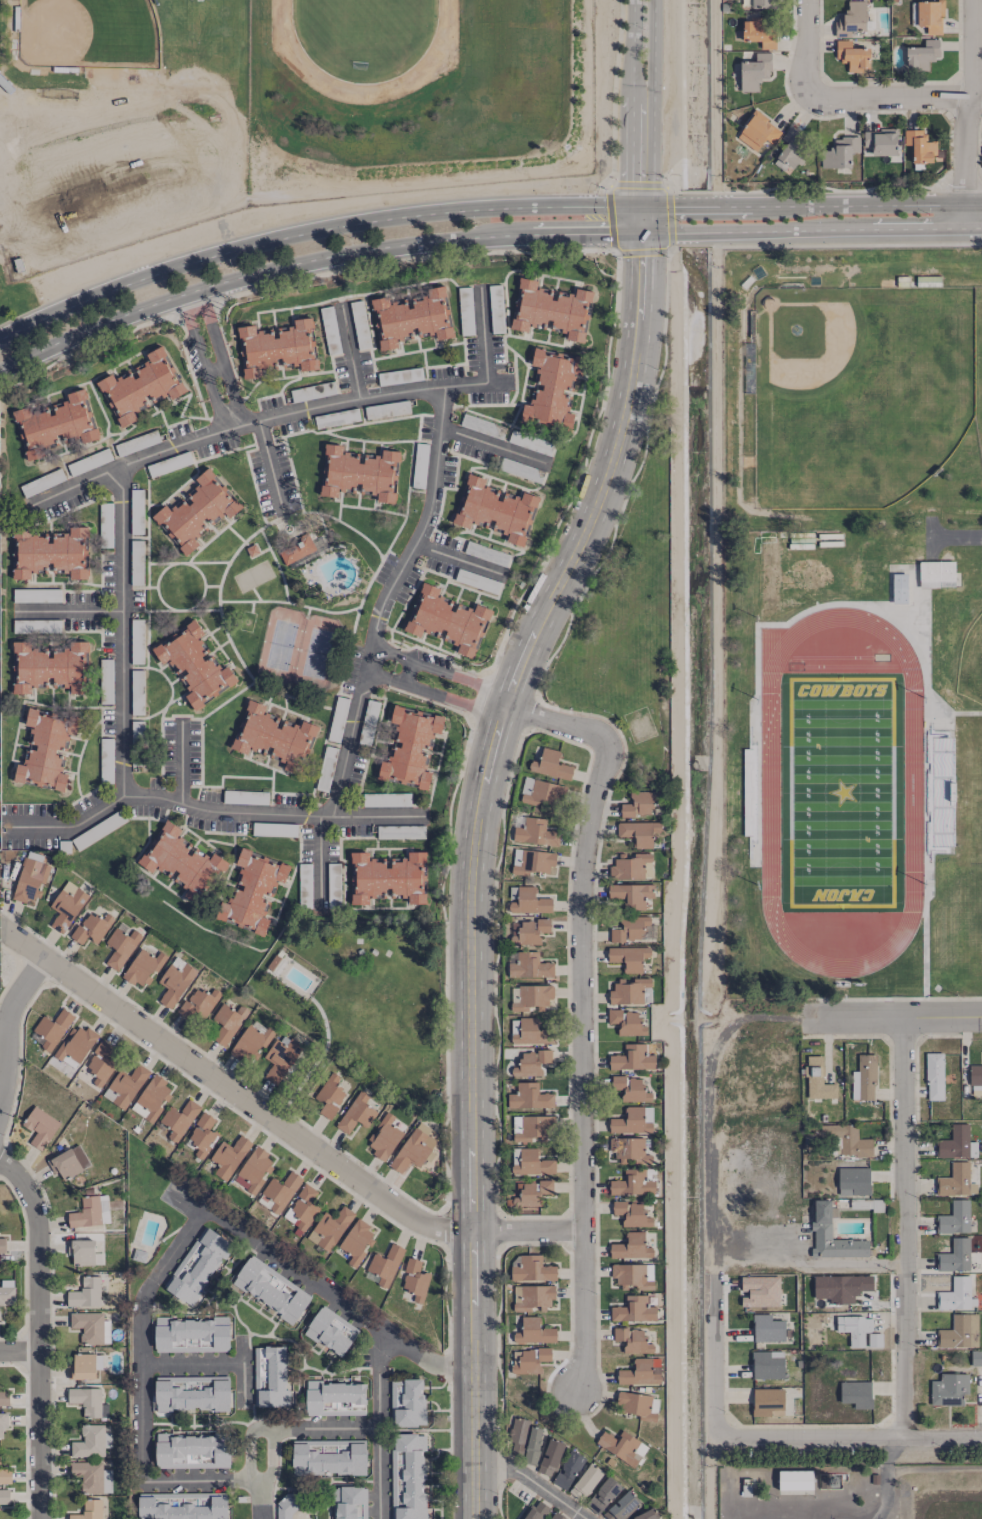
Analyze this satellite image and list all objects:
building: (763, 3)
building: (930, 16)
building: (851, 18)
building: (758, 31)
park: (135, 34)
track: (366, 41)
road: (808, 52)
building: (922, 54)
building: (852, 55)
building: (754, 71)
road: (612, 92)
road: (714, 95)
road: (970, 101)
road: (895, 102)
road: (632, 103)
road: (649, 103)
building: (758, 131)
building: (881, 141)
building: (919, 145)
building: (789, 149)
building: (840, 152)
road: (846, 203)
road: (660, 205)
road: (696, 206)
road: (965, 215)
road: (641, 218)
road: (846, 229)
road: (310, 231)
road: (661, 232)
road: (696, 232)
road: (614, 245)
road: (311, 260)
road: (616, 274)
building: (551, 308)
building: (412, 317)
road: (664, 330)
building: (278, 347)
road: (354, 352)
road: (213, 358)
park: (979, 382)
building: (141, 385)
building: (552, 389)
park: (858, 390)
road: (293, 412)
building: (55, 424)
road: (495, 446)
road: (270, 465)
building: (360, 472)
building: (494, 509)
building: (197, 510)
building: (296, 549)
building: (49, 552)
road: (459, 558)
building: (937, 572)
building: (900, 588)
road: (389, 599)
road: (72, 610)
road: (718, 616)
building: (448, 620)
road: (122, 630)
park: (971, 663)
building: (194, 664)
building: (49, 666)
building: (106, 668)
road: (380, 677)
road: (448, 693)
building: (272, 736)
building: (410, 747)
building: (45, 749)
road: (180, 762)
building: (550, 764)
building: (527, 784)
building: (544, 795)
building: (641, 803)
road: (208, 811)
building: (639, 831)
building: (535, 832)
road: (320, 860)
road: (471, 860)
building: (181, 861)
building: (531, 861)
building: (632, 866)
building: (31, 877)
building: (387, 877)
building: (251, 891)
building: (630, 894)
road: (675, 894)
building: (529, 901)
building: (66, 905)
building: (91, 927)
building: (634, 929)
building: (527, 931)
building: (120, 946)
building: (629, 957)
building: (529, 965)
building: (143, 967)
building: (175, 980)
building: (631, 991)
building: (532, 997)
building: (198, 1004)
road: (12, 1010)
road: (580, 1014)
road: (891, 1017)
building: (627, 1022)
building: (225, 1023)
building: (52, 1028)
building: (530, 1032)
building: (250, 1042)
building: (75, 1046)
building: (632, 1057)
building: (278, 1058)
building: (101, 1062)
building: (531, 1062)
building: (934, 1074)
building: (975, 1074)
building: (864, 1078)
building: (818, 1080)
building: (125, 1085)
building: (628, 1089)
building: (529, 1096)
building: (151, 1098)
building: (327, 1098)
building: (356, 1113)
building: (178, 1119)
building: (628, 1119)
road: (278, 1125)
building: (40, 1126)
building: (535, 1128)
building: (201, 1135)
building: (384, 1138)
building: (847, 1140)
building: (957, 1143)
building: (413, 1148)
building: (629, 1149)
building: (229, 1156)
building: (532, 1163)
building: (65, 1164)
building: (254, 1169)
building: (853, 1180)
building: (956, 1180)
building: (633, 1183)
building: (279, 1191)
building: (527, 1192)
building: (302, 1208)
building: (90, 1211)
building: (632, 1213)
building: (954, 1217)
building: (821, 1225)
building: (329, 1228)
road: (905, 1228)
building: (356, 1241)
building: (2, 1244)
building: (631, 1246)
building: (83, 1252)
building: (139, 1255)
building: (955, 1255)
road: (834, 1262)
building: (385, 1264)
building: (197, 1266)
building: (533, 1269)
building: (632, 1275)
building: (415, 1279)
building: (841, 1287)
building: (269, 1289)
building: (760, 1290)
building: (86, 1292)
building: (956, 1294)
building: (7, 1295)
road: (336, 1297)
building: (633, 1309)
road: (711, 1321)
building: (91, 1326)
building: (767, 1328)
building: (331, 1330)
building: (859, 1330)
building: (534, 1331)
building: (960, 1331)
building: (191, 1334)
road: (143, 1335)
road: (38, 1337)
building: (633, 1340)
road: (19, 1357)
building: (976, 1357)
building: (531, 1360)
road: (194, 1364)
building: (767, 1364)
building: (82, 1366)
building: (639, 1372)
building: (270, 1376)
building: (949, 1389)
building: (191, 1392)
building: (856, 1393)
building: (4, 1397)
building: (335, 1398)
building: (767, 1400)
building: (88, 1401)
building: (407, 1401)
building: (638, 1403)
building: (1, 1424)
road: (379, 1425)
road: (320, 1428)
building: (517, 1435)
road: (846, 1438)
building: (91, 1441)
building: (533, 1445)
building: (622, 1446)
building: (192, 1450)
building: (328, 1456)
building: (550, 1457)
building: (568, 1469)
road: (261, 1473)
building: (5, 1475)
building: (91, 1476)
building: (407, 1476)
building: (795, 1479)
road: (531, 1480)
building: (586, 1480)
road: (203, 1481)
building: (603, 1495)
building: (4, 1496)
building: (349, 1502)
building: (288, 1504)
building: (182, 1505)
building: (621, 1506)
building: (89, 1510)
building: (536, 1510)
building: (556, 1515)
building: (646, 1515)

